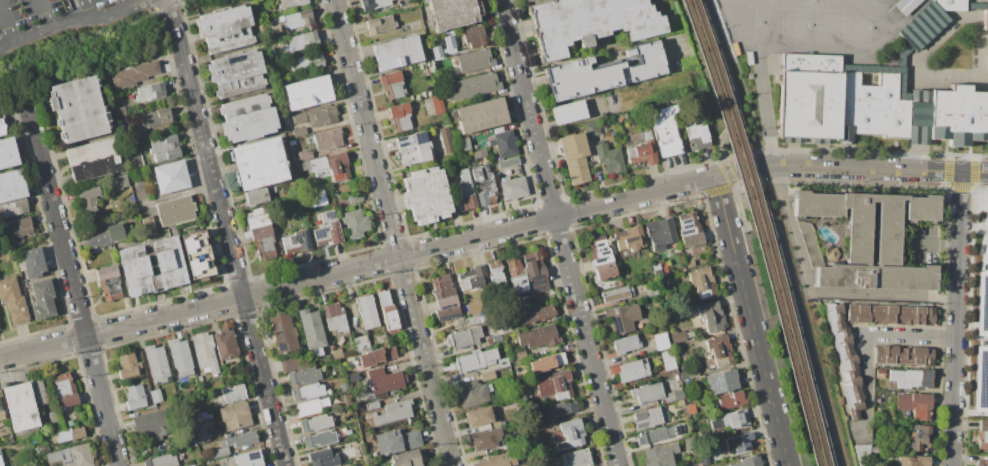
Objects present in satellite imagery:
building: (522, 0)
building: (527, 0)
park: (773, 1)
park: (810, 2)
park: (861, 2)
road: (128, 3)
building: (291, 3)
building: (373, 4)
building: (905, 5)
road: (90, 10)
parking lot: (40, 12)
building: (451, 13)
road: (46, 14)
track: (746, 17)
building: (297, 19)
building: (985, 20)
building: (929, 21)
road: (7, 23)
road: (72, 23)
building: (589, 23)
building: (380, 24)
park: (781, 24)
park: (842, 26)
building: (225, 29)
building: (474, 36)
road: (88, 40)
building: (304, 40)
track: (806, 48)
building: (397, 53)
building: (440, 54)
building: (987, 57)
building: (474, 61)
building: (307, 62)
building: (236, 73)
building: (604, 73)
building: (132, 75)
park: (720, 81)
building: (481, 83)
building: (392, 85)
road: (730, 87)
building: (150, 92)
building: (307, 93)
building: (437, 103)
building: (870, 104)
road: (527, 108)
building: (78, 109)
road: (768, 109)
building: (568, 112)
building: (481, 115)
building: (316, 116)
building: (399, 117)
building: (155, 118)
building: (247, 118)
building: (2, 128)
road: (365, 128)
building: (590, 128)
building: (665, 131)
building: (299, 132)
building: (697, 135)
building: (328, 139)
building: (446, 141)
building: (503, 143)
building: (462, 144)
building: (572, 146)
building: (413, 148)
building: (639, 148)
building: (163, 149)
building: (479, 153)
building: (8, 154)
building: (303, 154)
building: (92, 159)
building: (608, 159)
building: (135, 161)
building: (508, 162)
building: (259, 163)
building: (318, 163)
building: (338, 167)
road: (850, 168)
building: (578, 170)
building: (322, 173)
building: (170, 177)
building: (116, 183)
building: (483, 184)
building: (12, 185)
building: (514, 188)
building: (462, 190)
building: (426, 196)
building: (255, 197)
building: (317, 198)
building: (355, 198)
building: (87, 201)
building: (13, 208)
building: (176, 211)
building: (986, 216)
building: (355, 223)
building: (19, 229)
building: (327, 230)
building: (688, 230)
railway: (758, 231)
railway: (765, 231)
road: (225, 233)
building: (660, 233)
building: (261, 234)
building: (104, 236)
building: (871, 239)
building: (297, 241)
building: (629, 241)
building: (809, 244)
building: (198, 256)
building: (601, 257)
building: (32, 263)
building: (690, 263)
building: (152, 266)
road: (356, 266)
building: (656, 269)
building: (527, 273)
building: (495, 274)
building: (471, 279)
road: (759, 279)
road: (71, 280)
building: (702, 282)
building: (109, 283)
building: (652, 292)
building: (617, 294)
building: (445, 299)
building: (43, 300)
building: (13, 301)
building: (387, 310)
building: (367, 311)
road: (800, 311)
building: (890, 314)
building: (533, 315)
building: (711, 316)
road: (775, 316)
building: (623, 318)
road: (956, 318)
building: (335, 319)
building: (476, 320)
road: (751, 320)
road: (761, 325)
park: (793, 326)
building: (507, 329)
building: (981, 330)
building: (312, 331)
building: (283, 333)
building: (682, 335)
building: (494, 336)
building: (539, 336)
building: (464, 337)
road: (913, 337)
road: (585, 341)
building: (661, 341)
building: (225, 344)
building: (362, 344)
building: (626, 344)
building: (719, 350)
building: (204, 353)
building: (337, 353)
building: (379, 355)
building: (519, 355)
building: (902, 355)
building: (179, 357)
building: (845, 358)
building: (475, 359)
road: (424, 360)
building: (550, 360)
building: (668, 360)
building: (156, 362)
building: (290, 363)
building: (502, 363)
building: (128, 366)
building: (352, 368)
building: (633, 370)
building: (880, 373)
building: (689, 374)
building: (306, 375)
building: (487, 375)
building: (912, 378)
building: (384, 380)
building: (722, 381)
building: (560, 384)
road: (870, 384)
building: (346, 386)
building: (65, 390)
building: (309, 391)
building: (39, 392)
building: (470, 393)
building: (647, 393)
building: (231, 394)
building: (523, 394)
building: (155, 396)
building: (135, 397)
building: (674, 397)
building: (731, 400)
building: (373, 404)
building: (915, 405)
building: (1, 406)
building: (21, 407)
building: (310, 407)
building: (561, 408)
building: (690, 408)
building: (393, 412)
building: (2, 415)
building: (234, 417)
building: (478, 417)
building: (650, 417)
building: (735, 418)
building: (315, 422)
building: (152, 425)
building: (201, 426)
building: (679, 428)
building: (571, 434)
building: (684, 434)
building: (983, 434)
building: (67, 435)
building: (654, 435)
building: (522, 436)
building: (918, 437)
building: (319, 438)
building: (240, 440)
building: (483, 440)
building: (397, 441)
building: (739, 442)
building: (689, 444)
building: (40, 448)
building: (219, 452)
building: (662, 455)
building: (72, 456)
building: (248, 458)
building: (323, 458)
building: (576, 458)
building: (405, 459)
building: (498, 460)
building: (161, 461)
building: (748, 461)
building: (913, 461)
building: (1, 462)
building: (982, 463)
building: (191, 465)
building: (700, 465)

